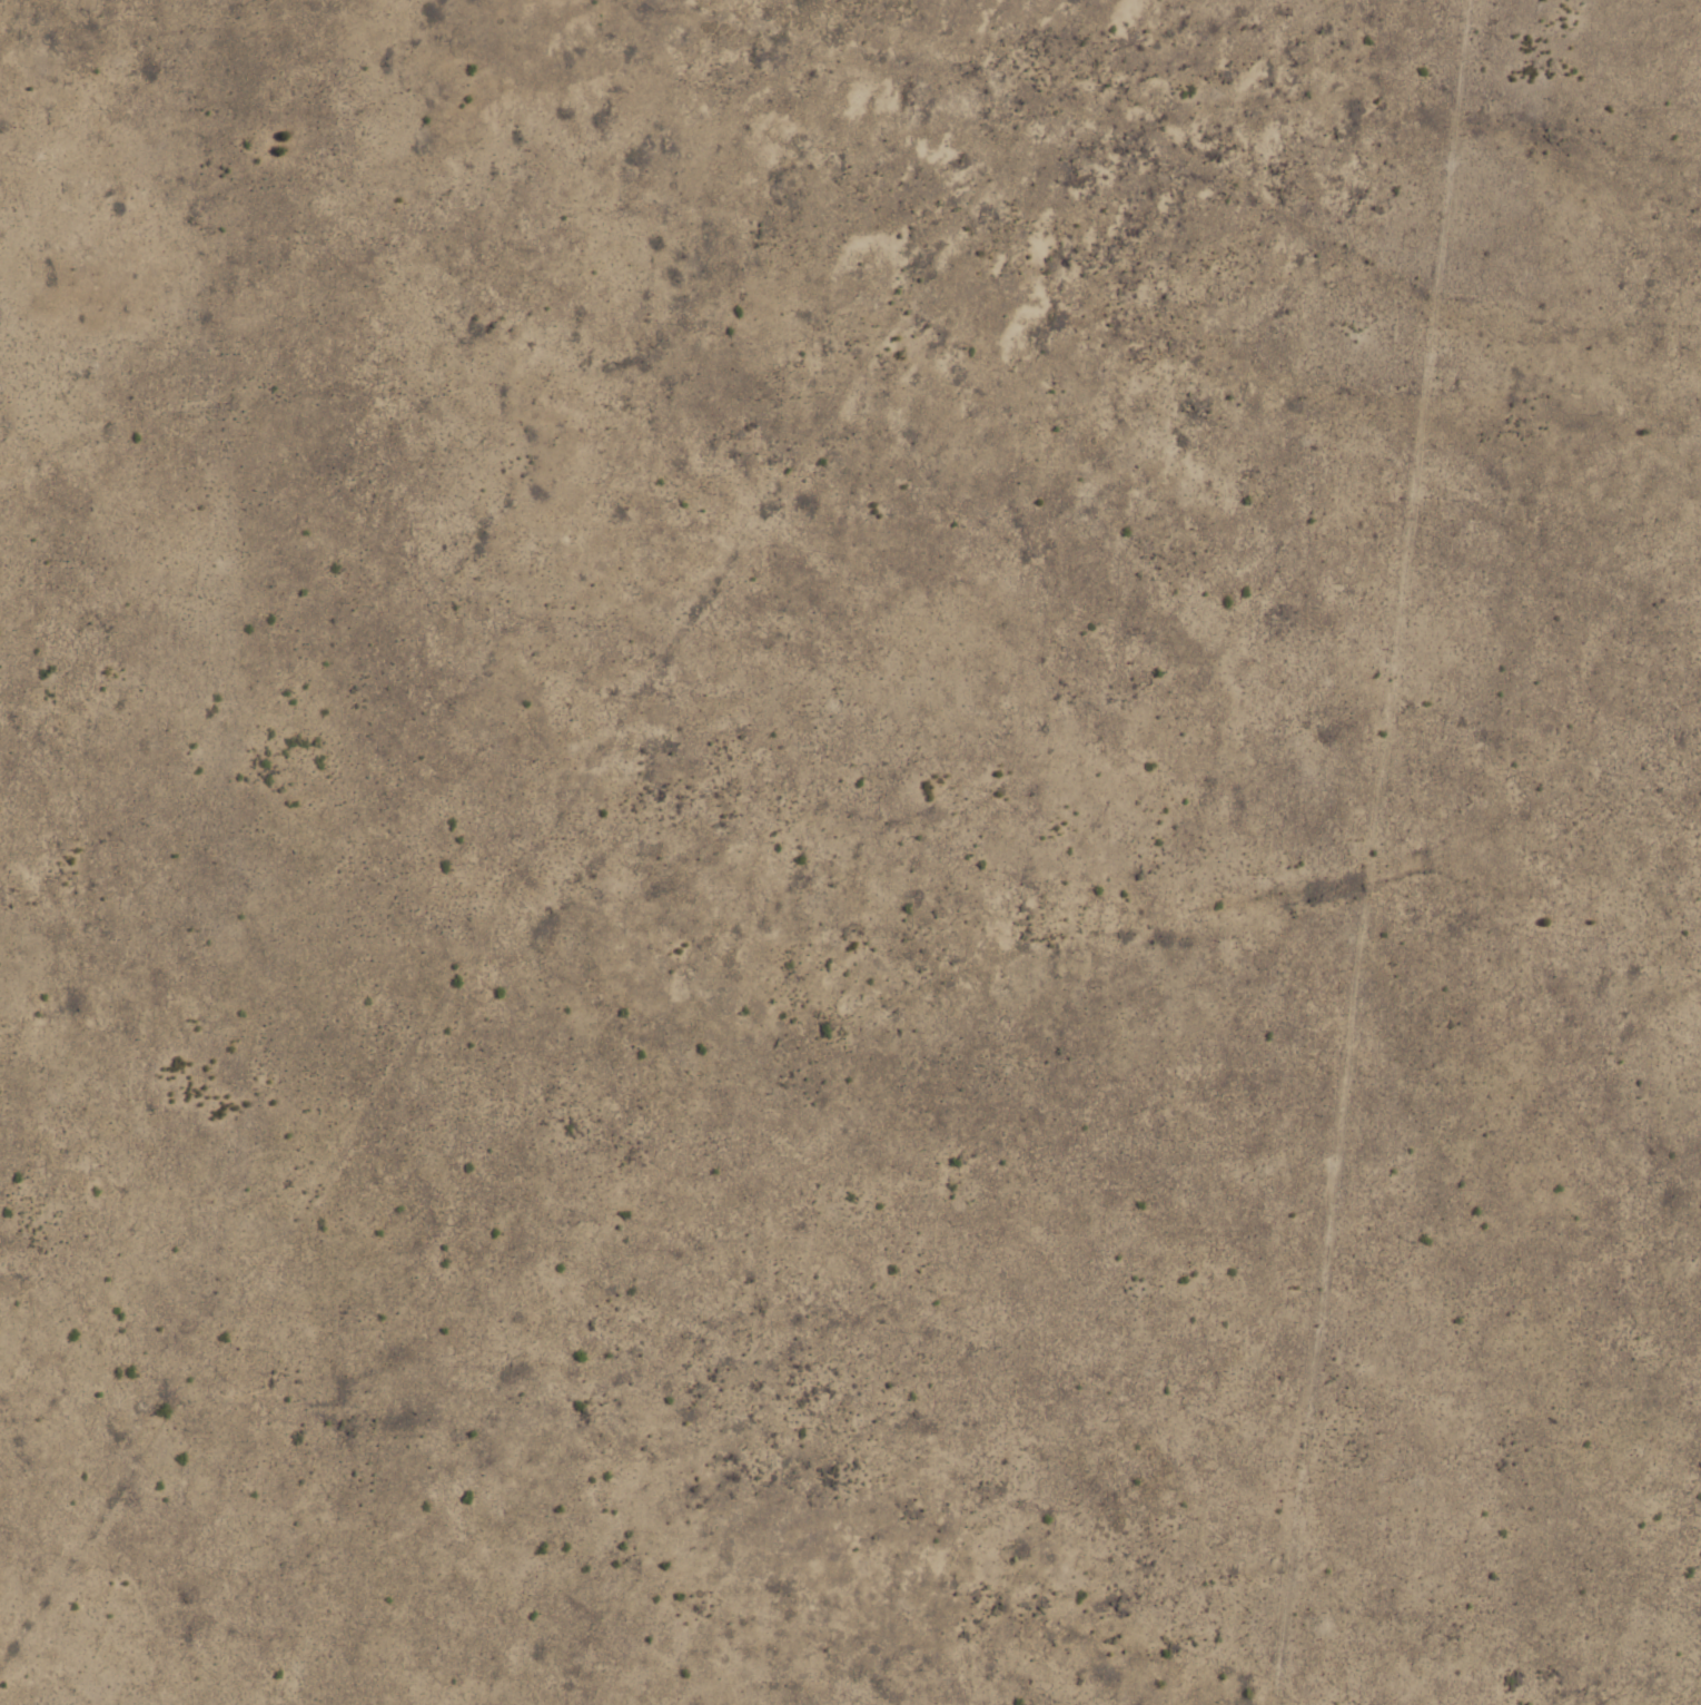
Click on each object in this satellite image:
road: (557, 839)
road: (1366, 852)

